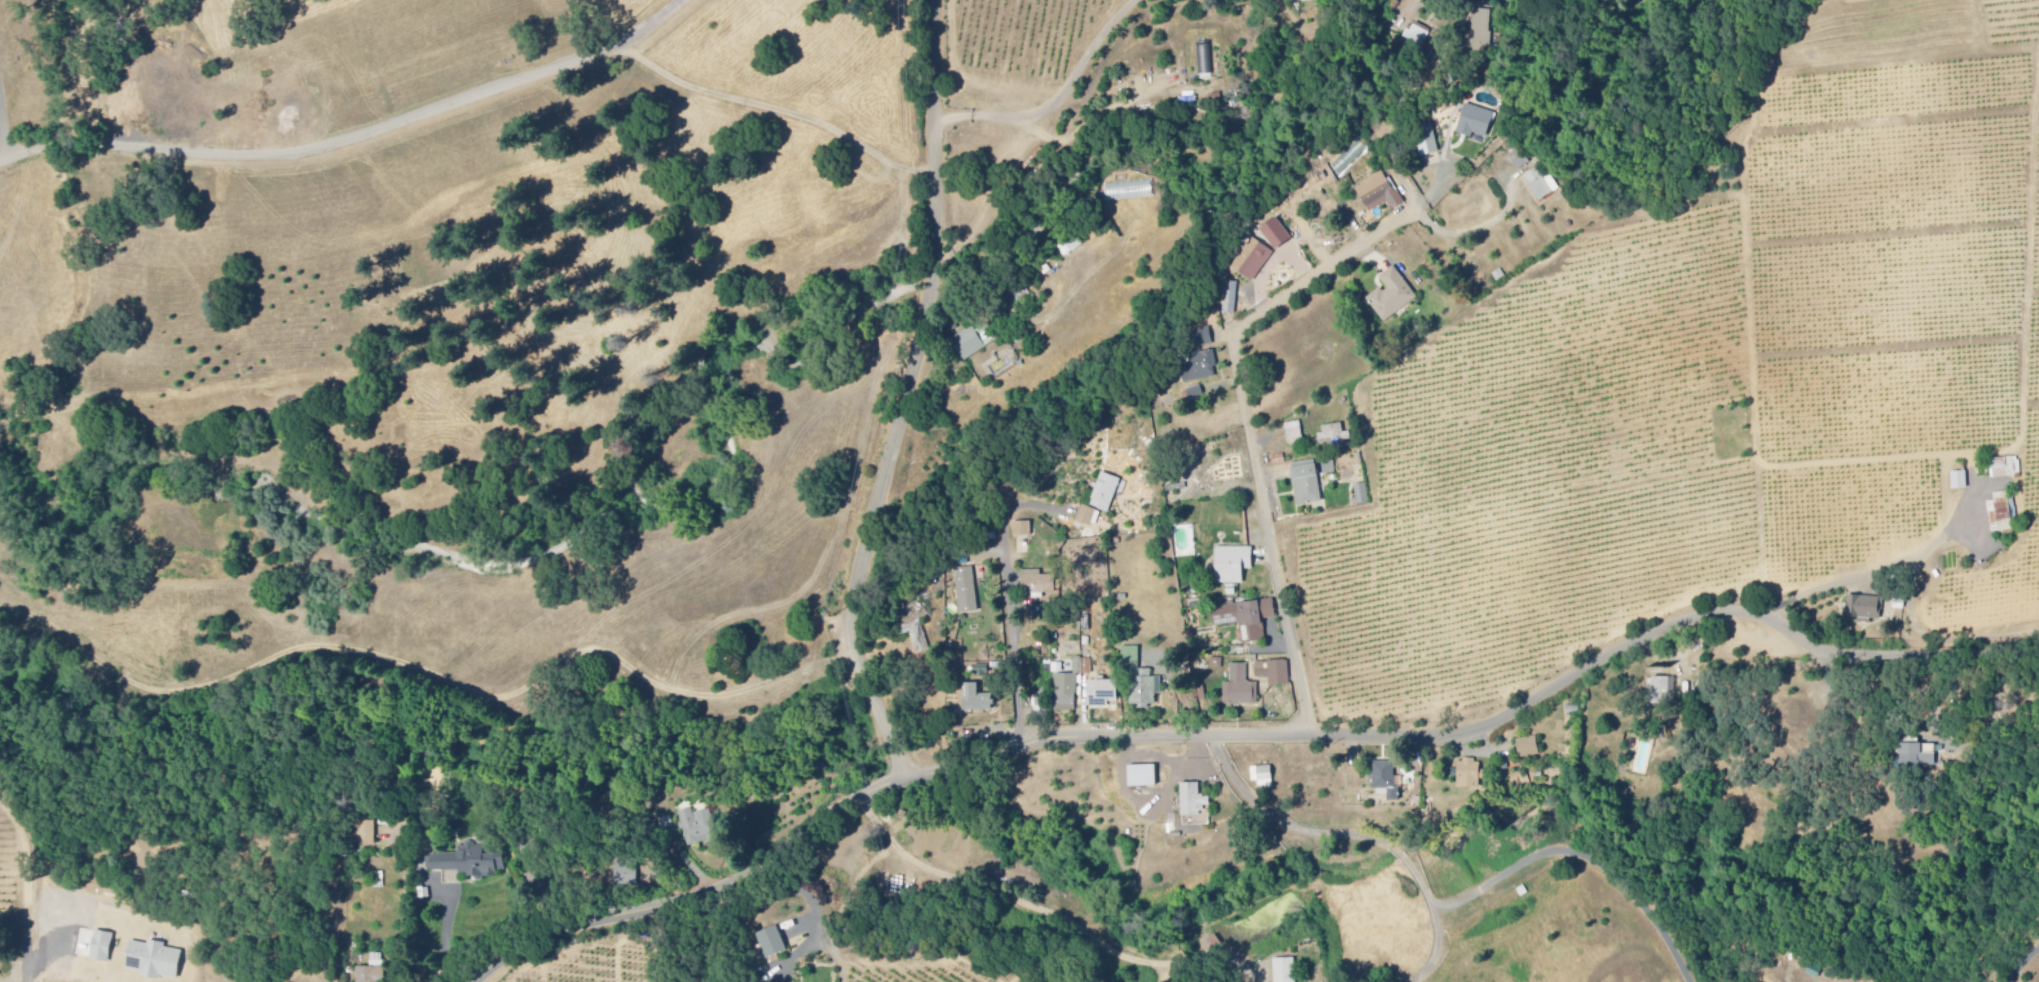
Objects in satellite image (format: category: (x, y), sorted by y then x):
building: (1298, 1)
building: (1481, 24)
building: (1417, 36)
road: (630, 45)
building: (1205, 59)
road: (2, 113)
building: (1476, 122)
building: (1429, 145)
building: (1520, 160)
road: (938, 173)
building: (1541, 185)
building: (1379, 193)
road: (9, 213)
building: (1276, 235)
building: (1258, 264)
building: (1392, 296)
building: (1203, 338)
building: (973, 342)
building: (1199, 368)
road: (1242, 384)
building: (1195, 394)
building: (1295, 434)
building: (1335, 435)
building: (1329, 468)
building: (2005, 468)
building: (1959, 481)
building: (1307, 484)
building: (1105, 493)
building: (1362, 495)
building: (2001, 513)
building: (1089, 517)
building: (1022, 530)
road: (865, 564)
building: (1233, 565)
building: (1038, 585)
building: (967, 591)
building: (1864, 609)
building: (1246, 618)
building: (917, 636)
building: (981, 671)
building: (1274, 673)
building: (1142, 681)
building: (1240, 689)
building: (1660, 692)
building: (1103, 694)
building: (977, 700)
road: (1244, 734)
building: (1528, 748)
building: (1470, 776)
building: (1143, 777)
building: (1263, 777)
building: (1195, 807)
building: (699, 828)
building: (366, 834)
road: (1353, 839)
road: (1583, 858)
building: (465, 863)
building: (625, 872)
building: (773, 943)
road: (2020, 962)
building: (373, 970)
building: (1285, 970)

